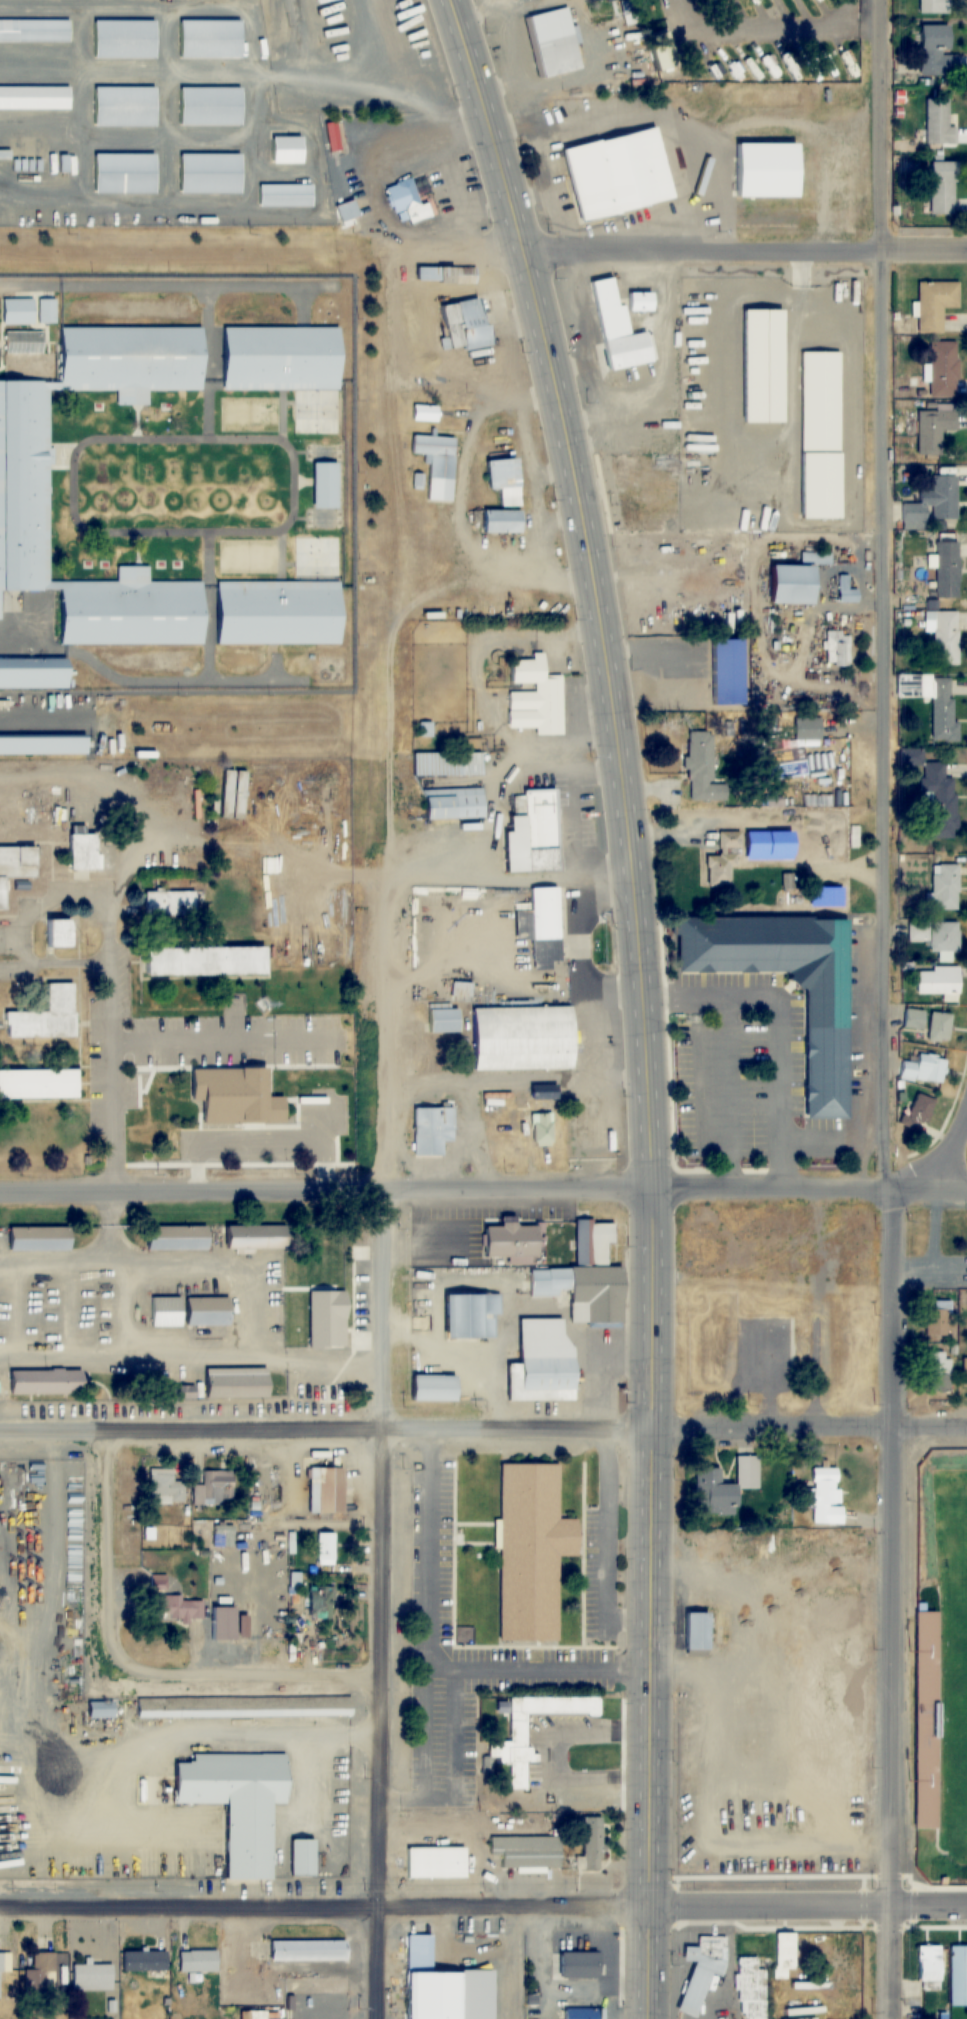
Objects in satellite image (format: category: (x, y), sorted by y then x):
building: (933, 6)
building: (34, 31)
building: (123, 39)
building: (208, 39)
building: (553, 41)
building: (931, 49)
building: (34, 99)
building: (123, 107)
building: (209, 107)
building: (938, 123)
building: (284, 151)
building: (123, 174)
building: (208, 174)
building: (615, 174)
building: (941, 188)
building: (284, 196)
building: (411, 202)
road: (676, 249)
building: (441, 277)
building: (934, 304)
building: (27, 312)
building: (462, 324)
building: (619, 325)
building: (421, 339)
building: (24, 342)
building: (279, 359)
building: (760, 366)
building: (943, 369)
building: (423, 413)
building: (932, 429)
building: (819, 435)
building: (437, 464)
building: (502, 481)
building: (324, 485)
building: (24, 486)
building: (933, 501)
building: (499, 522)
building: (947, 570)
building: (786, 586)
building: (846, 591)
building: (276, 613)
building: (943, 636)
building: (837, 649)
building: (726, 674)
building: (32, 675)
building: (534, 699)
building: (933, 702)
building: (806, 728)
building: (41, 746)
building: (447, 764)
building: (702, 767)
building: (935, 793)
building: (452, 804)
building: (530, 834)
building: (80, 852)
building: (726, 858)
building: (17, 865)
building: (945, 887)
building: (170, 904)
building: (57, 934)
building: (545, 938)
building: (937, 939)
building: (202, 961)
building: (938, 982)
building: (788, 984)
building: (460, 989)
road: (106, 994)
road: (646, 998)
road: (892, 1009)
building: (44, 1016)
building: (443, 1019)
building: (914, 1019)
building: (183, 1022)
building: (939, 1027)
road: (221, 1036)
building: (520, 1038)
building: (925, 1069)
building: (36, 1085)
building: (157, 1097)
building: (245, 1102)
building: (430, 1130)
building: (543, 1131)
road: (383, 1132)
road: (936, 1162)
road: (483, 1195)
building: (260, 1237)
building: (180, 1238)
building: (41, 1239)
building: (509, 1240)
building: (585, 1280)
building: (310, 1299)
building: (210, 1310)
building: (167, 1311)
building: (473, 1315)
building: (937, 1319)
building: (540, 1363)
building: (938, 1371)
building: (965, 1372)
building: (45, 1382)
building: (238, 1382)
building: (435, 1387)
road: (483, 1432)
building: (164, 1486)
building: (724, 1486)
building: (215, 1487)
building: (328, 1490)
building: (825, 1496)
building: (224, 1535)
building: (326, 1548)
building: (529, 1551)
road: (105, 1555)
building: (322, 1602)
building: (180, 1608)
building: (225, 1623)
building: (697, 1633)
road: (258, 1673)
building: (244, 1707)
building: (102, 1709)
park: (961, 1726)
building: (926, 1728)
building: (514, 1729)
building: (241, 1803)
building: (592, 1843)
building: (527, 1854)
building: (304, 1857)
building: (435, 1862)
road: (483, 1900)
building: (310, 1949)
road: (513, 1959)
building: (199, 1960)
building: (5, 1961)
building: (147, 1961)
building: (927, 1963)
building: (575, 1965)
building: (701, 1971)
building: (42, 1974)
building: (958, 1975)
building: (94, 1976)
building: (440, 1985)
building: (751, 1989)
building: (579, 2013)
building: (259, 2015)

